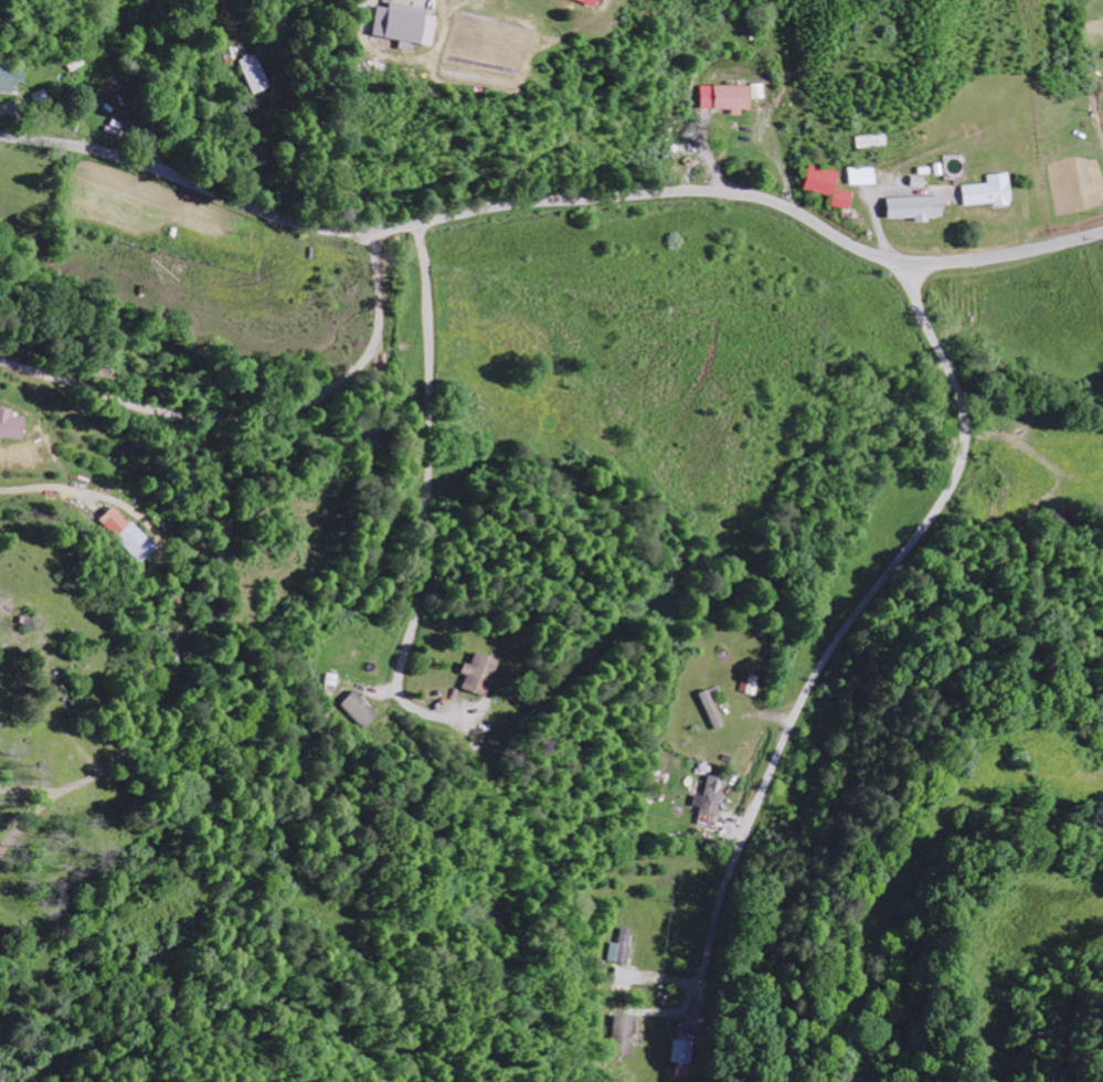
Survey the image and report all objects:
building: (581, 0)
building: (406, 25)
building: (255, 74)
building: (11, 75)
road: (105, 76)
building: (760, 91)
building: (728, 97)
building: (862, 176)
building: (828, 185)
building: (989, 191)
road: (552, 201)
building: (916, 208)
road: (1077, 279)
building: (11, 424)
building: (127, 533)
road: (898, 562)
building: (480, 675)
building: (752, 683)
building: (361, 710)
building: (715, 713)
building: (712, 796)
building: (709, 820)
building: (624, 947)
building: (626, 1036)
building: (683, 1058)

